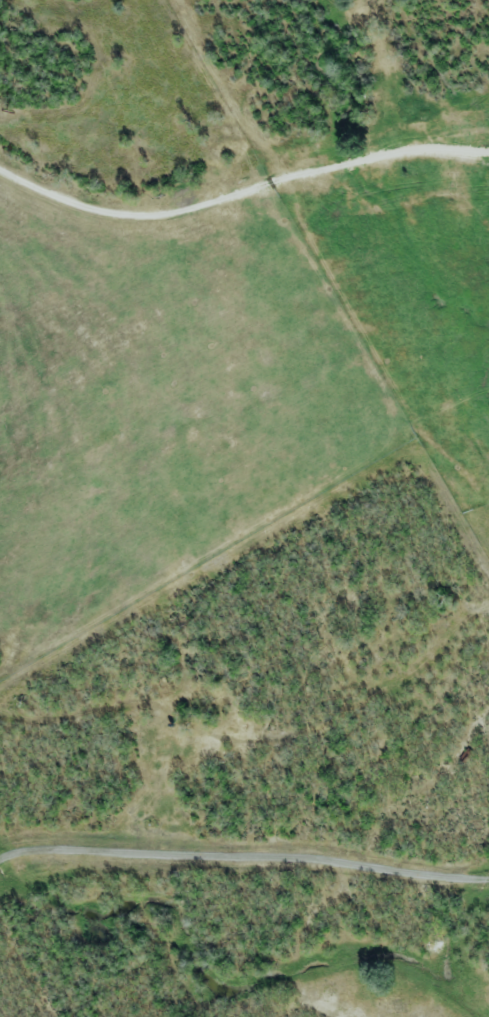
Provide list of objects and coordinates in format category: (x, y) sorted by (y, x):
road: (245, 185)

